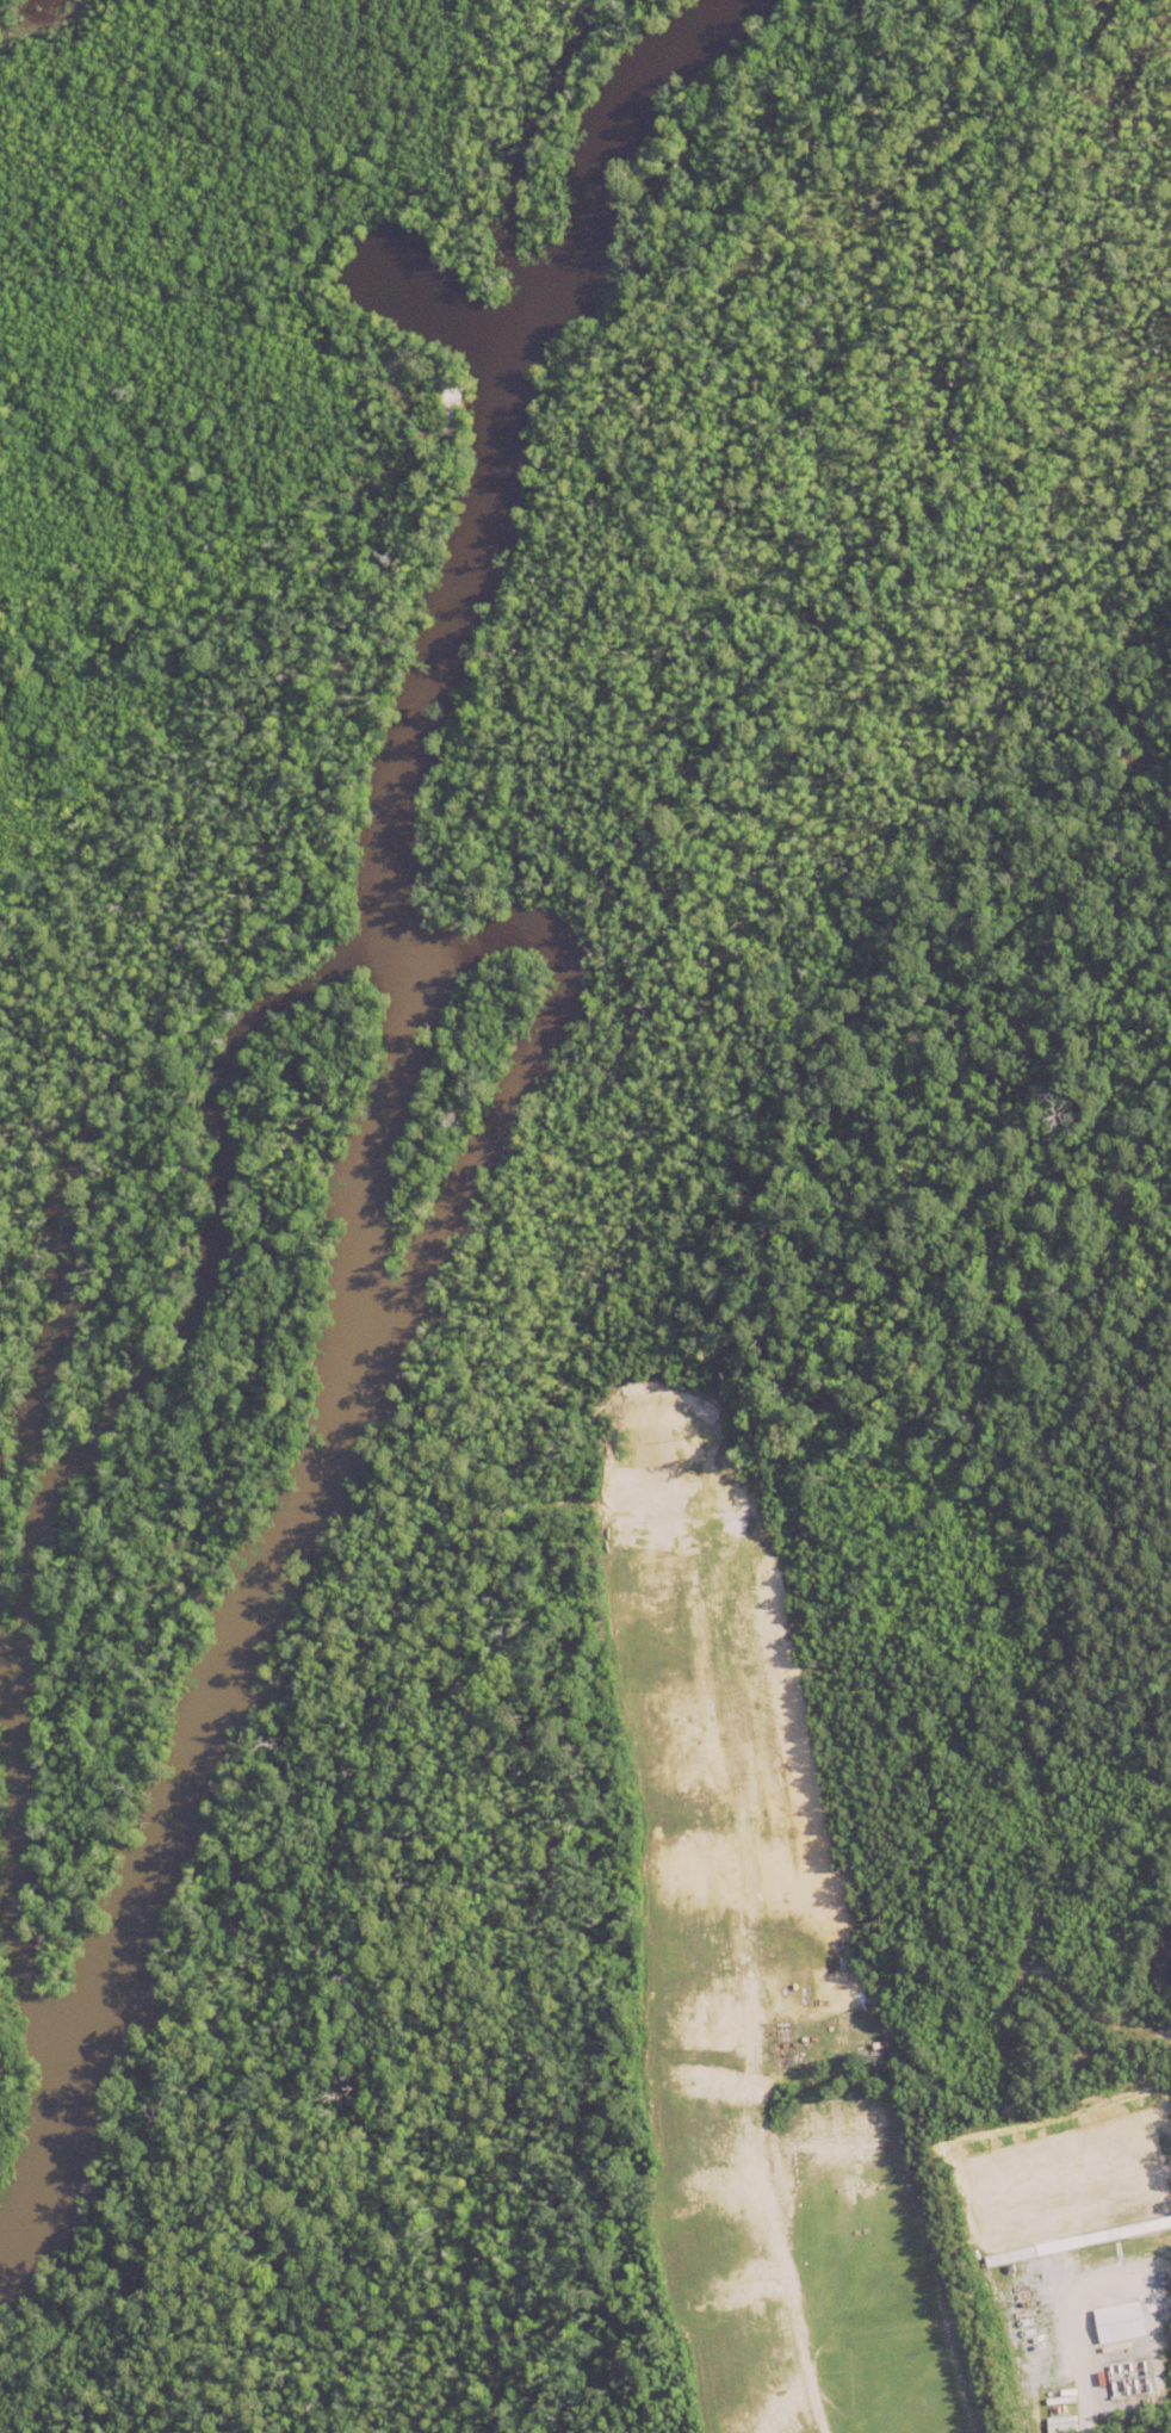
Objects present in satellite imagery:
building: (1146, 2225)
road: (1053, 2241)
building: (1122, 2321)
building: (1129, 2377)

